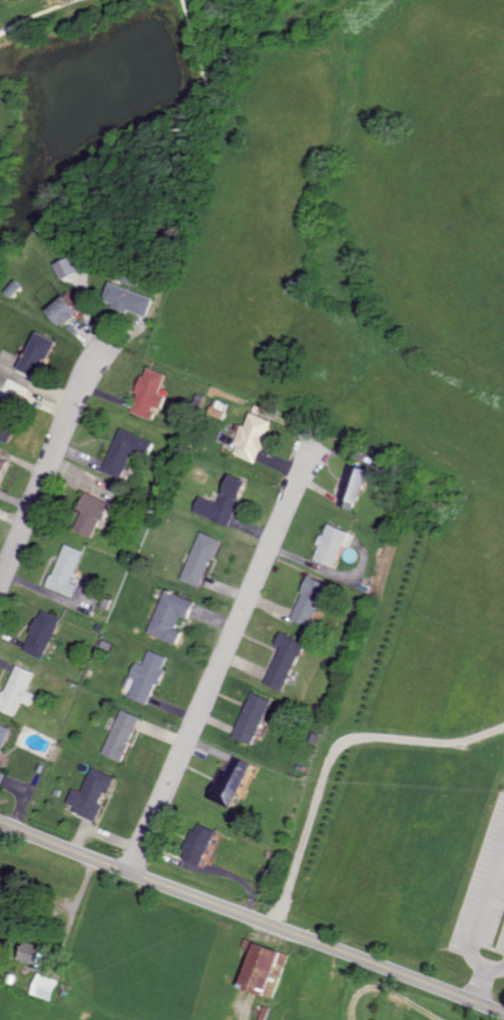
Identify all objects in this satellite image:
building: (64, 268)
building: (128, 299)
building: (63, 311)
building: (38, 354)
building: (149, 394)
building: (219, 408)
building: (6, 426)
building: (254, 437)
building: (126, 452)
building: (2, 466)
road: (47, 467)
building: (353, 487)
building: (223, 502)
building: (92, 514)
building: (333, 544)
building: (202, 559)
building: (67, 569)
building: (310, 601)
building: (172, 616)
building: (43, 634)
road: (221, 660)
building: (285, 661)
building: (149, 677)
building: (18, 690)
building: (253, 718)
building: (122, 735)
building: (3, 736)
building: (2, 775)
building: (232, 780)
building: (92, 793)
building: (199, 843)
road: (251, 918)
road: (476, 918)
building: (31, 951)
building: (263, 969)
building: (44, 985)
road: (475, 985)
road: (387, 989)
road: (242, 1011)

